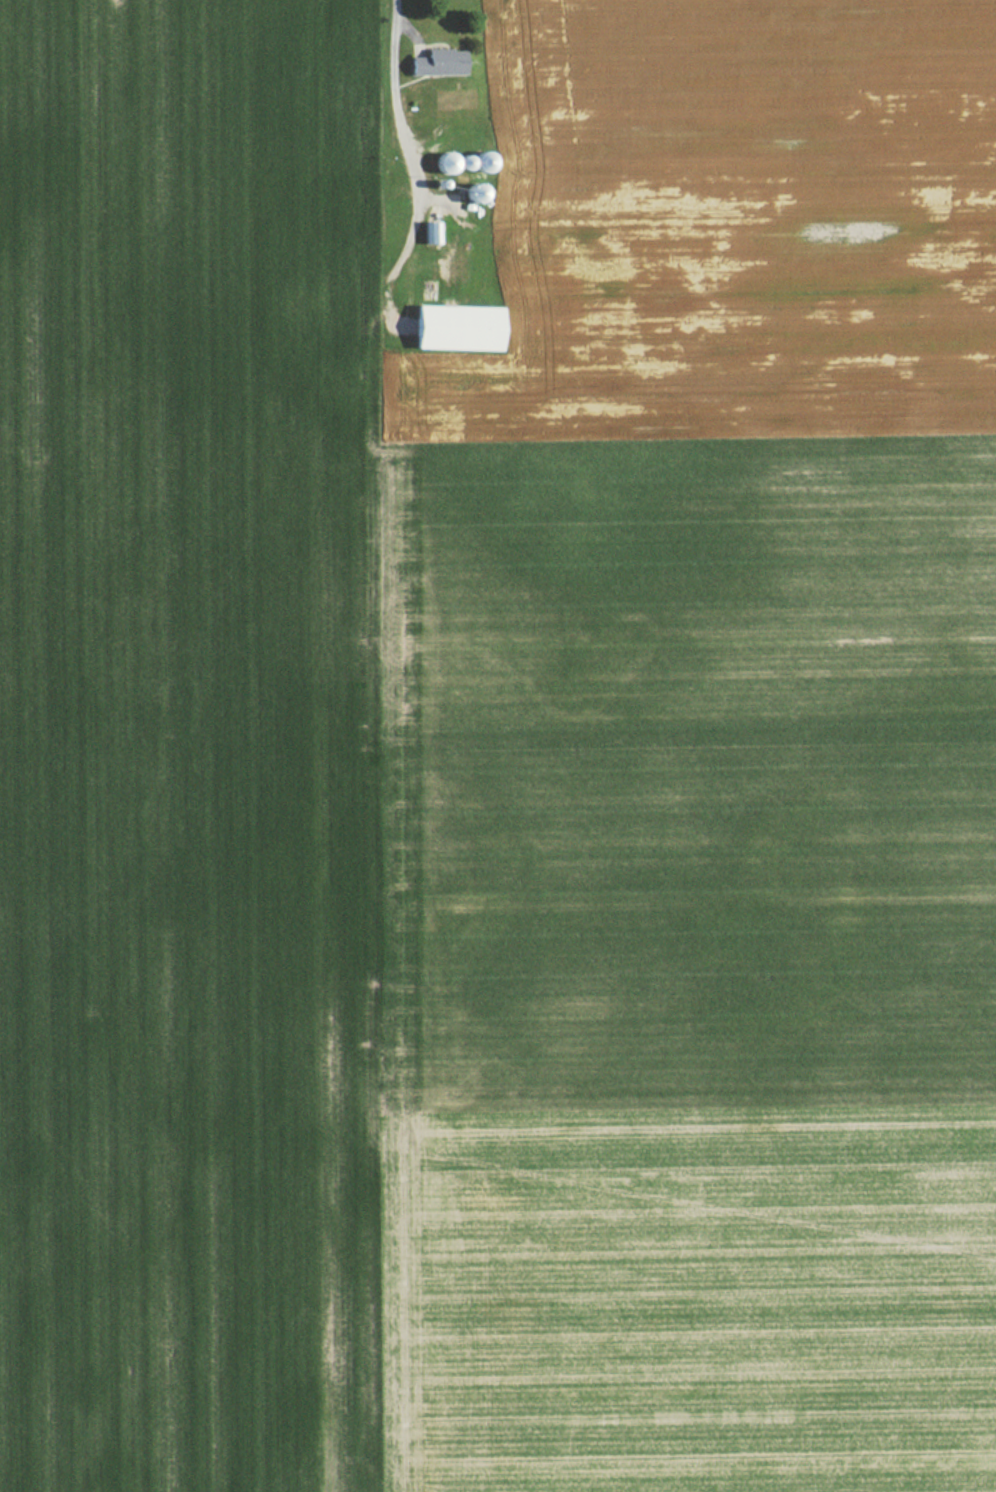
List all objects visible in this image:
road: (396, 100)
building: (455, 328)
crop: (185, 742)
crop: (696, 777)

